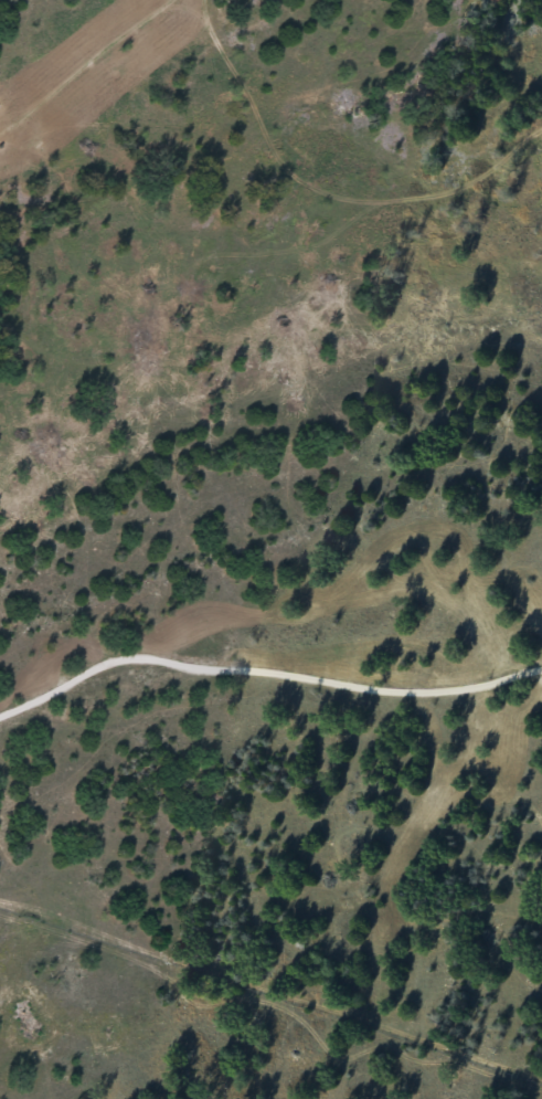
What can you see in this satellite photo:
road: (83, 75)

